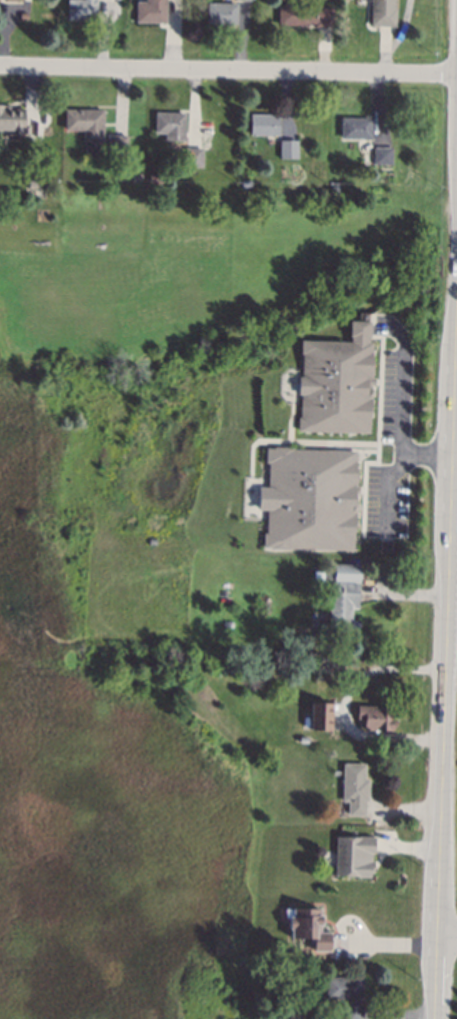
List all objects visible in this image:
building: (13, 0)
building: (82, 9)
building: (150, 11)
building: (382, 12)
building: (220, 13)
building: (303, 14)
building: (23, 15)
road: (228, 73)
building: (13, 121)
building: (85, 122)
building: (263, 124)
building: (170, 125)
building: (355, 127)
building: (117, 145)
building: (287, 148)
building: (381, 154)
building: (192, 158)
building: (153, 176)
building: (33, 183)
building: (245, 183)
building: (335, 381)
road: (400, 405)
road: (454, 456)
road: (386, 488)
building: (308, 499)
building: (316, 574)
building: (342, 599)
road: (444, 675)
building: (320, 716)
building: (376, 716)
building: (303, 740)
building: (353, 788)
building: (352, 856)
building: (308, 927)
road: (446, 937)
road: (383, 945)
building: (346, 994)

